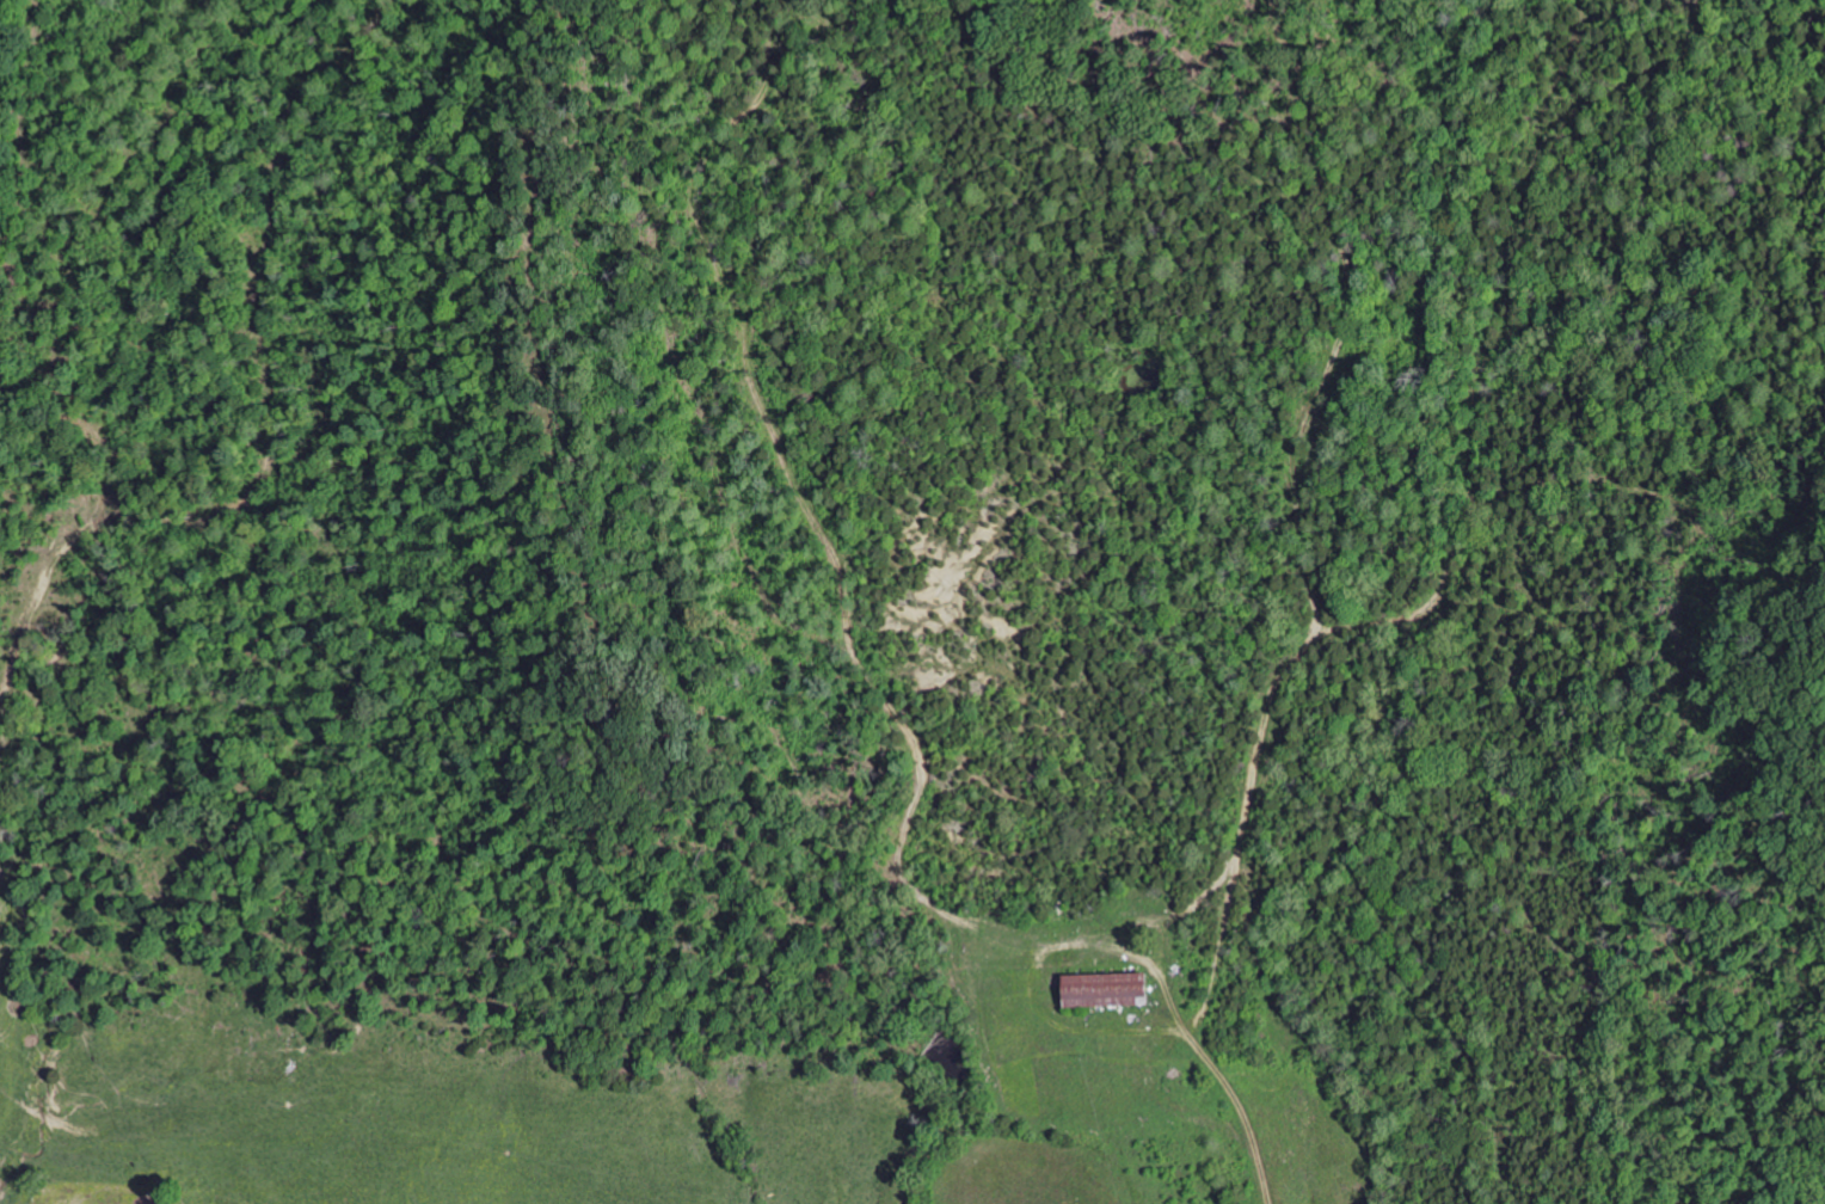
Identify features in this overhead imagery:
building: (1111, 991)

